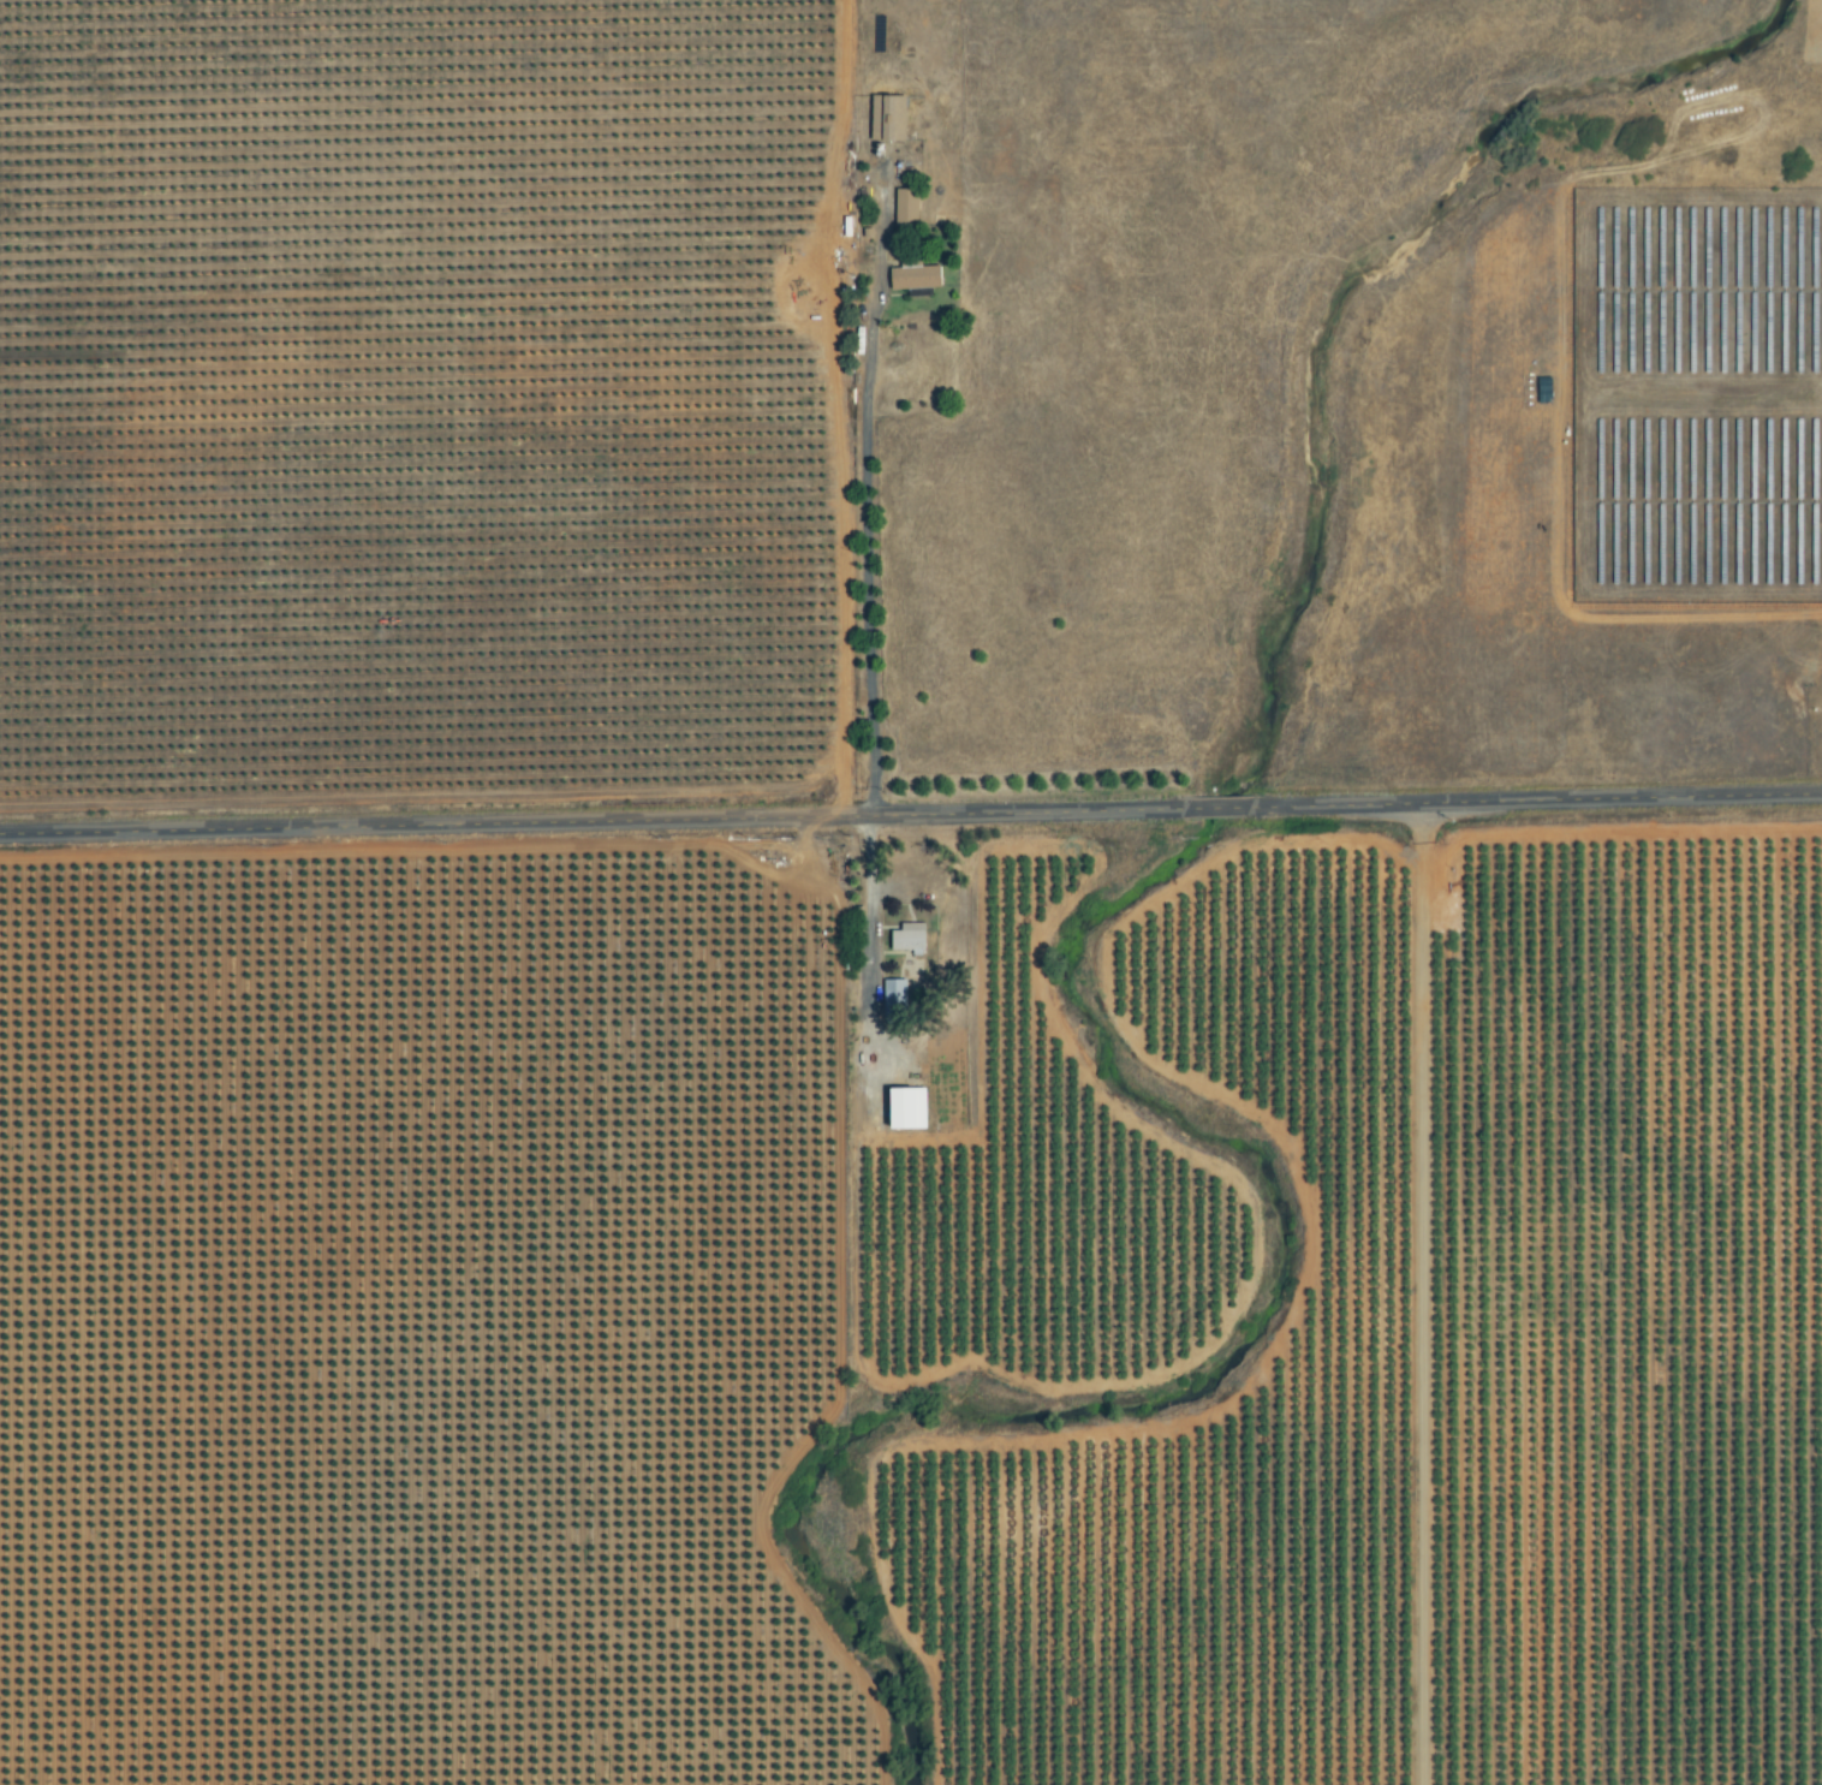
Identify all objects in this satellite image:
building: (885, 119)
building: (912, 275)
road: (870, 542)
road: (911, 816)
road: (870, 889)
building: (906, 938)
building: (892, 994)
building: (903, 1108)

